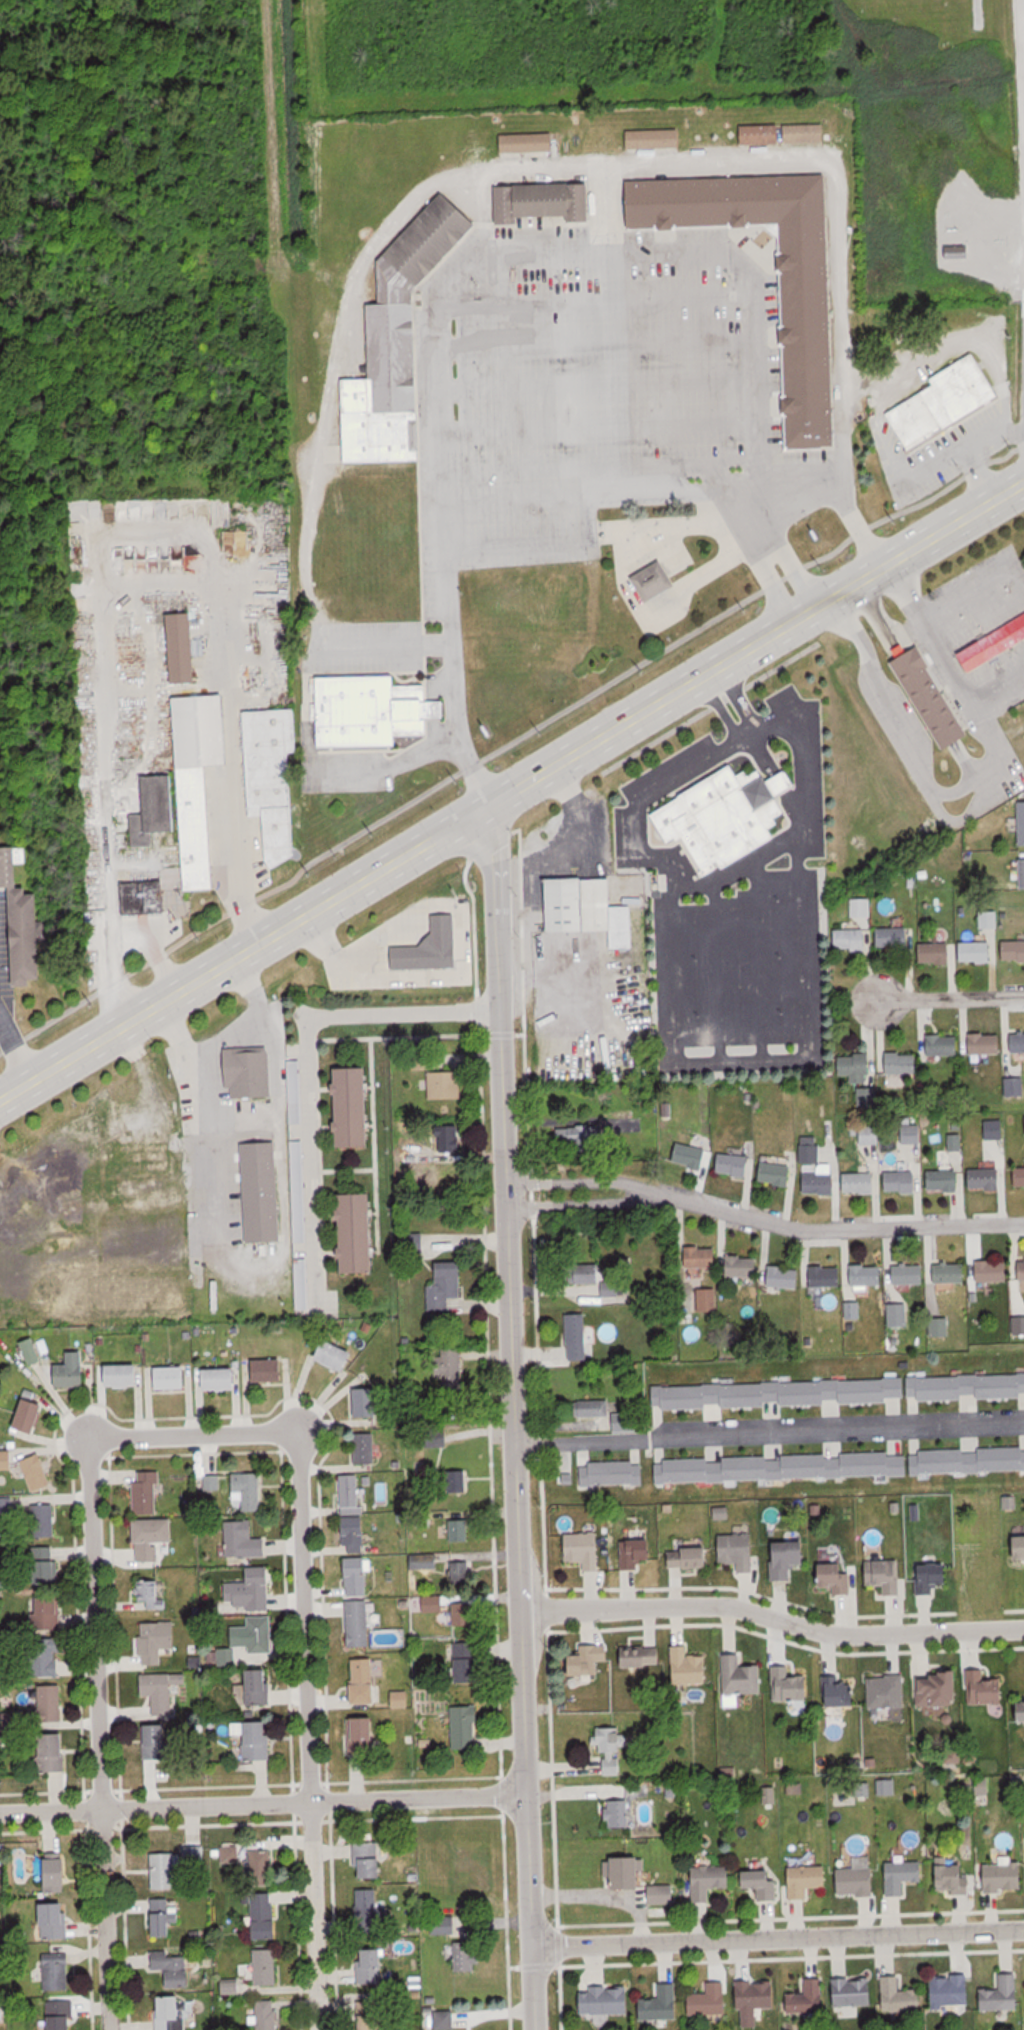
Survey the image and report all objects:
road: (1022, 60)
building: (761, 133)
building: (805, 133)
building: (654, 138)
building: (528, 142)
road: (782, 161)
building: (542, 201)
building: (808, 338)
building: (399, 339)
building: (945, 403)
road: (508, 491)
building: (655, 581)
road: (131, 587)
road: (874, 604)
road: (656, 608)
building: (993, 646)
building: (183, 649)
road: (706, 678)
building: (931, 697)
building: (373, 711)
road: (743, 734)
building: (272, 770)
road: (976, 780)
building: (199, 781)
road: (512, 787)
building: (155, 810)
building: (726, 815)
building: (1022, 822)
building: (1022, 870)
building: (144, 897)
road: (460, 902)
building: (589, 908)
building: (20, 928)
building: (893, 937)
building: (852, 938)
building: (431, 947)
road: (148, 950)
building: (1013, 950)
building: (976, 951)
building: (937, 952)
road: (948, 997)
road: (228, 1028)
building: (1017, 1042)
building: (985, 1043)
building: (943, 1044)
road: (15, 1051)
road: (742, 1062)
building: (902, 1063)
building: (855, 1064)
road: (309, 1069)
building: (249, 1072)
building: (445, 1086)
building: (1014, 1086)
building: (354, 1106)
building: (995, 1129)
building: (912, 1133)
building: (579, 1137)
building: (452, 1138)
building: (810, 1154)
building: (691, 1155)
building: (733, 1164)
building: (776, 1173)
building: (1020, 1177)
building: (984, 1178)
building: (944, 1179)
building: (820, 1180)
building: (902, 1181)
building: (859, 1183)
building: (262, 1190)
road: (765, 1222)
building: (358, 1232)
road: (272, 1256)
building: (701, 1257)
building: (311, 1262)
building: (743, 1265)
building: (132, 1268)
building: (1021, 1270)
building: (992, 1271)
building: (950, 1273)
building: (909, 1274)
building: (785, 1275)
building: (866, 1275)
building: (826, 1276)
building: (599, 1279)
building: (446, 1287)
building: (577, 1336)
building: (335, 1354)
building: (72, 1369)
building: (450, 1369)
building: (268, 1370)
building: (123, 1374)
building: (172, 1377)
building: (221, 1379)
building: (838, 1391)
road: (294, 1396)
building: (368, 1400)
building: (594, 1409)
building: (30, 1413)
road: (516, 1417)
road: (770, 1430)
road: (185, 1434)
building: (365, 1453)
building: (6, 1459)
building: (842, 1464)
building: (37, 1472)
building: (611, 1473)
building: (456, 1481)
building: (247, 1491)
building: (146, 1492)
building: (351, 1494)
building: (44, 1520)
building: (459, 1530)
building: (355, 1534)
building: (152, 1537)
building: (244, 1540)
building: (1018, 1547)
building: (583, 1549)
building: (737, 1551)
building: (638, 1554)
building: (689, 1558)
building: (788, 1558)
building: (47, 1565)
building: (884, 1575)
building: (460, 1576)
building: (933, 1576)
building: (835, 1577)
building: (251, 1590)
building: (152, 1594)
building: (358, 1601)
building: (48, 1614)
building: (462, 1614)
road: (772, 1619)
building: (259, 1634)
building: (157, 1641)
building: (228, 1657)
building: (47, 1660)
building: (586, 1660)
building: (468, 1662)
building: (641, 1665)
building: (691, 1669)
building: (741, 1675)
building: (365, 1681)
building: (790, 1686)
building: (258, 1688)
building: (984, 1688)
building: (939, 1690)
building: (162, 1691)
building: (887, 1691)
building: (841, 1692)
building: (49, 1703)
building: (1023, 1710)
building: (465, 1727)
road: (299, 1733)
road: (89, 1735)
building: (363, 1737)
building: (258, 1740)
building: (159, 1742)
building: (610, 1751)
building: (54, 1753)
road: (264, 1803)
building: (617, 1814)
building: (195, 1857)
building: (369, 1860)
building: (261, 1863)
building: (165, 1871)
building: (629, 1873)
building: (57, 1874)
building: (902, 1876)
building: (1003, 1877)
building: (807, 1879)
building: (954, 1880)
building: (710, 1881)
building: (856, 1881)
building: (764, 1884)
road: (604, 1893)
building: (662, 1894)
building: (370, 1904)
building: (265, 1916)
building: (165, 1917)
building: (55, 1920)
road: (780, 1937)
building: (467, 1957)
building: (373, 1965)
building: (173, 1967)
building: (266, 1967)
building: (57, 1972)
building: (852, 1992)
building: (951, 1992)
building: (1002, 1994)
building: (899, 1996)
building: (806, 1997)
building: (606, 1999)
building: (755, 1999)
building: (709, 2000)
building: (661, 2003)
building: (171, 2013)
building: (60, 2015)
building: (268, 2015)
building: (371, 2015)
building: (445, 2019)

